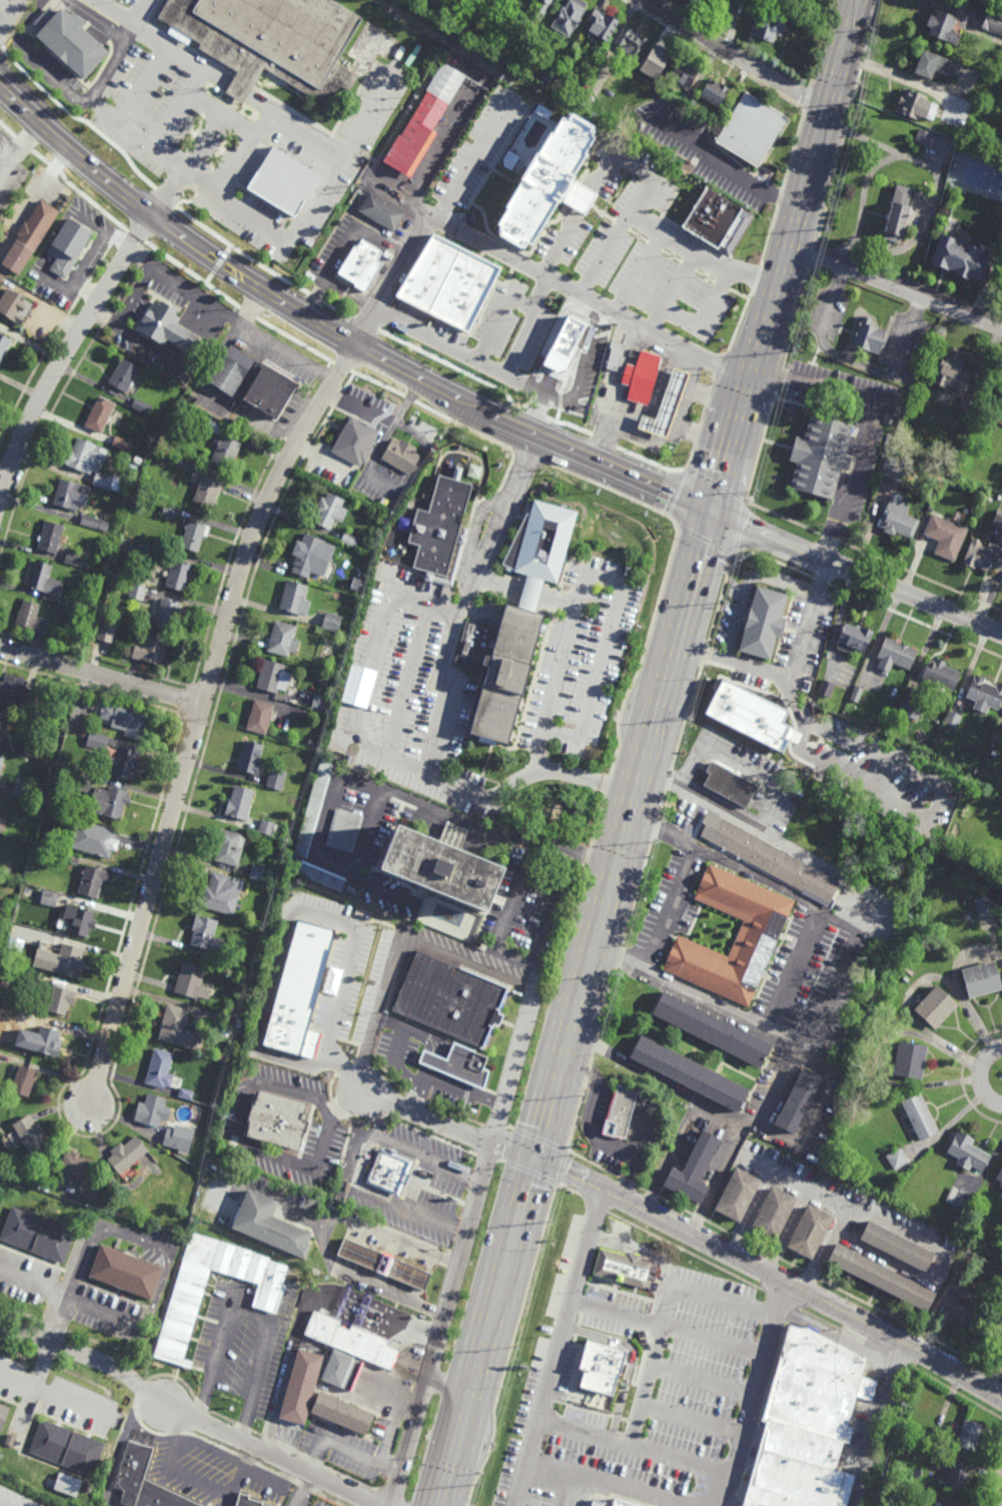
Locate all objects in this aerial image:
building: (556, 0)
building: (746, 1)
building: (1000, 3)
building: (544, 4)
road: (138, 12)
road: (3, 13)
road: (8, 13)
building: (525, 16)
building: (570, 17)
building: (989, 21)
road: (25, 24)
road: (97, 24)
building: (769, 24)
building: (599, 25)
building: (942, 27)
building: (380, 40)
building: (272, 41)
building: (69, 42)
building: (629, 42)
road: (841, 54)
road: (734, 55)
building: (654, 61)
building: (936, 66)
road: (887, 72)
building: (682, 75)
road: (73, 93)
building: (713, 93)
road: (199, 95)
building: (588, 98)
power tower: (859, 102)
building: (915, 106)
road: (130, 116)
building: (424, 121)
building: (751, 130)
road: (300, 136)
building: (923, 138)
road: (726, 164)
building: (288, 170)
park: (977, 176)
road: (205, 177)
building: (540, 177)
road: (642, 197)
road: (583, 200)
building: (712, 204)
building: (383, 213)
building: (899, 215)
road: (794, 229)
power tower: (826, 229)
road: (285, 234)
building: (29, 238)
road: (559, 242)
road: (342, 243)
building: (67, 247)
road: (701, 258)
building: (962, 260)
road: (526, 264)
building: (362, 266)
building: (1, 277)
road: (840, 277)
building: (450, 285)
road: (896, 286)
road: (182, 289)
building: (14, 307)
road: (250, 307)
road: (829, 310)
road: (527, 324)
building: (169, 331)
road: (131, 335)
road: (338, 335)
building: (869, 338)
road: (182, 340)
building: (4, 344)
road: (266, 345)
building: (568, 352)
road: (67, 353)
power tower: (792, 354)
road: (587, 355)
building: (614, 356)
road: (477, 357)
building: (232, 370)
road: (619, 373)
building: (951, 373)
road: (890, 374)
building: (124, 375)
building: (639, 377)
road: (753, 379)
road: (820, 387)
building: (270, 393)
road: (687, 396)
road: (553, 398)
road: (717, 398)
building: (968, 403)
building: (142, 406)
road: (361, 406)
building: (664, 406)
building: (1001, 410)
building: (99, 414)
building: (1000, 420)
building: (213, 425)
road: (740, 428)
road: (407, 429)
road: (631, 430)
road: (706, 437)
road: (662, 440)
building: (355, 441)
building: (122, 443)
building: (226, 450)
building: (820, 453)
building: (162, 454)
building: (402, 454)
building: (85, 456)
road: (322, 457)
building: (137, 460)
building: (185, 463)
building: (133, 468)
building: (899, 469)
road: (371, 471)
building: (103, 480)
road: (725, 482)
building: (126, 483)
building: (206, 487)
road: (850, 491)
building: (70, 494)
power tower: (755, 498)
building: (329, 509)
building: (169, 510)
traffic signals: (716, 517)
building: (898, 519)
building: (89, 521)
building: (441, 523)
building: (104, 525)
building: (194, 535)
building: (49, 536)
building: (945, 536)
building: (350, 539)
building: (986, 549)
building: (148, 551)
building: (308, 556)
building: (72, 557)
building: (457, 557)
building: (178, 574)
road: (859, 574)
building: (44, 581)
road: (499, 583)
building: (137, 591)
road: (531, 593)
building: (295, 597)
power tower: (724, 599)
building: (61, 609)
building: (168, 614)
building: (30, 616)
building: (103, 621)
building: (332, 621)
building: (517, 622)
building: (763, 622)
road: (811, 628)
building: (854, 638)
building: (283, 639)
road: (604, 649)
building: (151, 650)
building: (896, 655)
road: (557, 667)
road: (369, 670)
building: (940, 674)
road: (101, 676)
building: (273, 677)
building: (826, 689)
building: (16, 692)
building: (856, 694)
building: (984, 694)
building: (89, 703)
building: (321, 703)
building: (744, 706)
building: (909, 709)
road: (443, 715)
building: (261, 716)
road: (199, 718)
building: (126, 720)
power tower: (692, 720)
building: (820, 720)
building: (953, 720)
building: (3, 723)
building: (997, 736)
building: (95, 740)
building: (312, 743)
building: (33, 747)
building: (254, 759)
road: (743, 762)
building: (124, 763)
building: (1, 766)
building: (49, 768)
road: (897, 770)
building: (276, 779)
building: (84, 783)
building: (729, 785)
building: (22, 787)
road: (389, 793)
building: (107, 801)
building: (240, 803)
building: (314, 810)
park: (572, 812)
building: (270, 825)
building: (2, 829)
building: (344, 830)
road: (369, 831)
building: (93, 840)
road: (626, 840)
power tower: (655, 846)
building: (230, 848)
road: (790, 848)
building: (70, 859)
building: (770, 859)
building: (439, 864)
building: (5, 870)
building: (258, 873)
building: (321, 876)
building: (92, 882)
road: (783, 891)
building: (222, 894)
building: (49, 899)
building: (984, 907)
building: (3, 912)
road: (304, 912)
building: (78, 920)
building: (207, 936)
road: (399, 946)
building: (753, 946)
road: (496, 948)
road: (620, 957)
building: (69, 959)
power tower: (619, 970)
building: (46, 979)
building: (981, 981)
building: (192, 983)
building: (297, 984)
road: (832, 993)
building: (450, 1000)
building: (59, 1002)
building: (936, 1008)
building: (30, 1019)
building: (239, 1022)
road: (764, 1025)
building: (179, 1031)
building: (712, 1031)
building: (224, 1032)
building: (47, 1042)
building: (910, 1060)
building: (460, 1065)
building: (161, 1069)
building: (689, 1072)
road: (981, 1075)
building: (23, 1078)
road: (465, 1090)
building: (186, 1092)
road: (418, 1093)
power tower: (586, 1094)
road: (689, 1095)
building: (798, 1099)
building: (152, 1109)
building: (620, 1111)
building: (920, 1116)
road: (719, 1117)
building: (278, 1119)
road: (451, 1128)
building: (31, 1133)
road: (593, 1133)
building: (172, 1138)
road: (412, 1151)
building: (127, 1152)
building: (967, 1152)
building: (898, 1158)
traffic signals: (537, 1164)
building: (694, 1168)
building: (388, 1172)
building: (82, 1175)
building: (1000, 1175)
building: (1001, 1184)
building: (737, 1194)
road: (380, 1200)
road: (838, 1200)
building: (963, 1200)
building: (773, 1212)
building: (177, 1219)
building: (1001, 1221)
power tower: (551, 1222)
building: (270, 1224)
road: (323, 1227)
building: (1001, 1227)
building: (810, 1231)
building: (36, 1234)
road: (134, 1236)
road: (409, 1242)
road: (463, 1246)
building: (897, 1246)
road: (825, 1248)
building: (384, 1264)
building: (624, 1268)
building: (126, 1271)
road: (772, 1275)
building: (882, 1276)
building: (293, 1279)
road: (391, 1291)
road: (55, 1293)
building: (185, 1298)
road: (670, 1300)
building: (542, 1309)
building: (962, 1310)
road: (104, 1311)
road: (254, 1316)
building: (996, 1327)
road: (566, 1330)
road: (489, 1335)
building: (630, 1338)
building: (351, 1341)
power tower: (515, 1347)
building: (540, 1360)
building: (600, 1367)
building: (342, 1371)
parking lot: (665, 1377)
road: (32, 1378)
road: (449, 1385)
building: (301, 1389)
road: (754, 1393)
road: (67, 1399)
building: (342, 1413)
building: (3, 1415)
road: (188, 1415)
building: (807, 1423)
road: (876, 1423)
building: (970, 1436)
building: (10, 1441)
building: (67, 1447)
building: (938, 1454)
building: (957, 1476)
road: (198, 1478)
building: (145, 1481)
road: (271, 1482)
road: (595, 1482)
building: (67, 1485)
power tower: (475, 1486)
road: (308, 1490)
building: (248, 1501)
building: (613, 1503)
road: (3, 1504)
building: (942, 1505)

